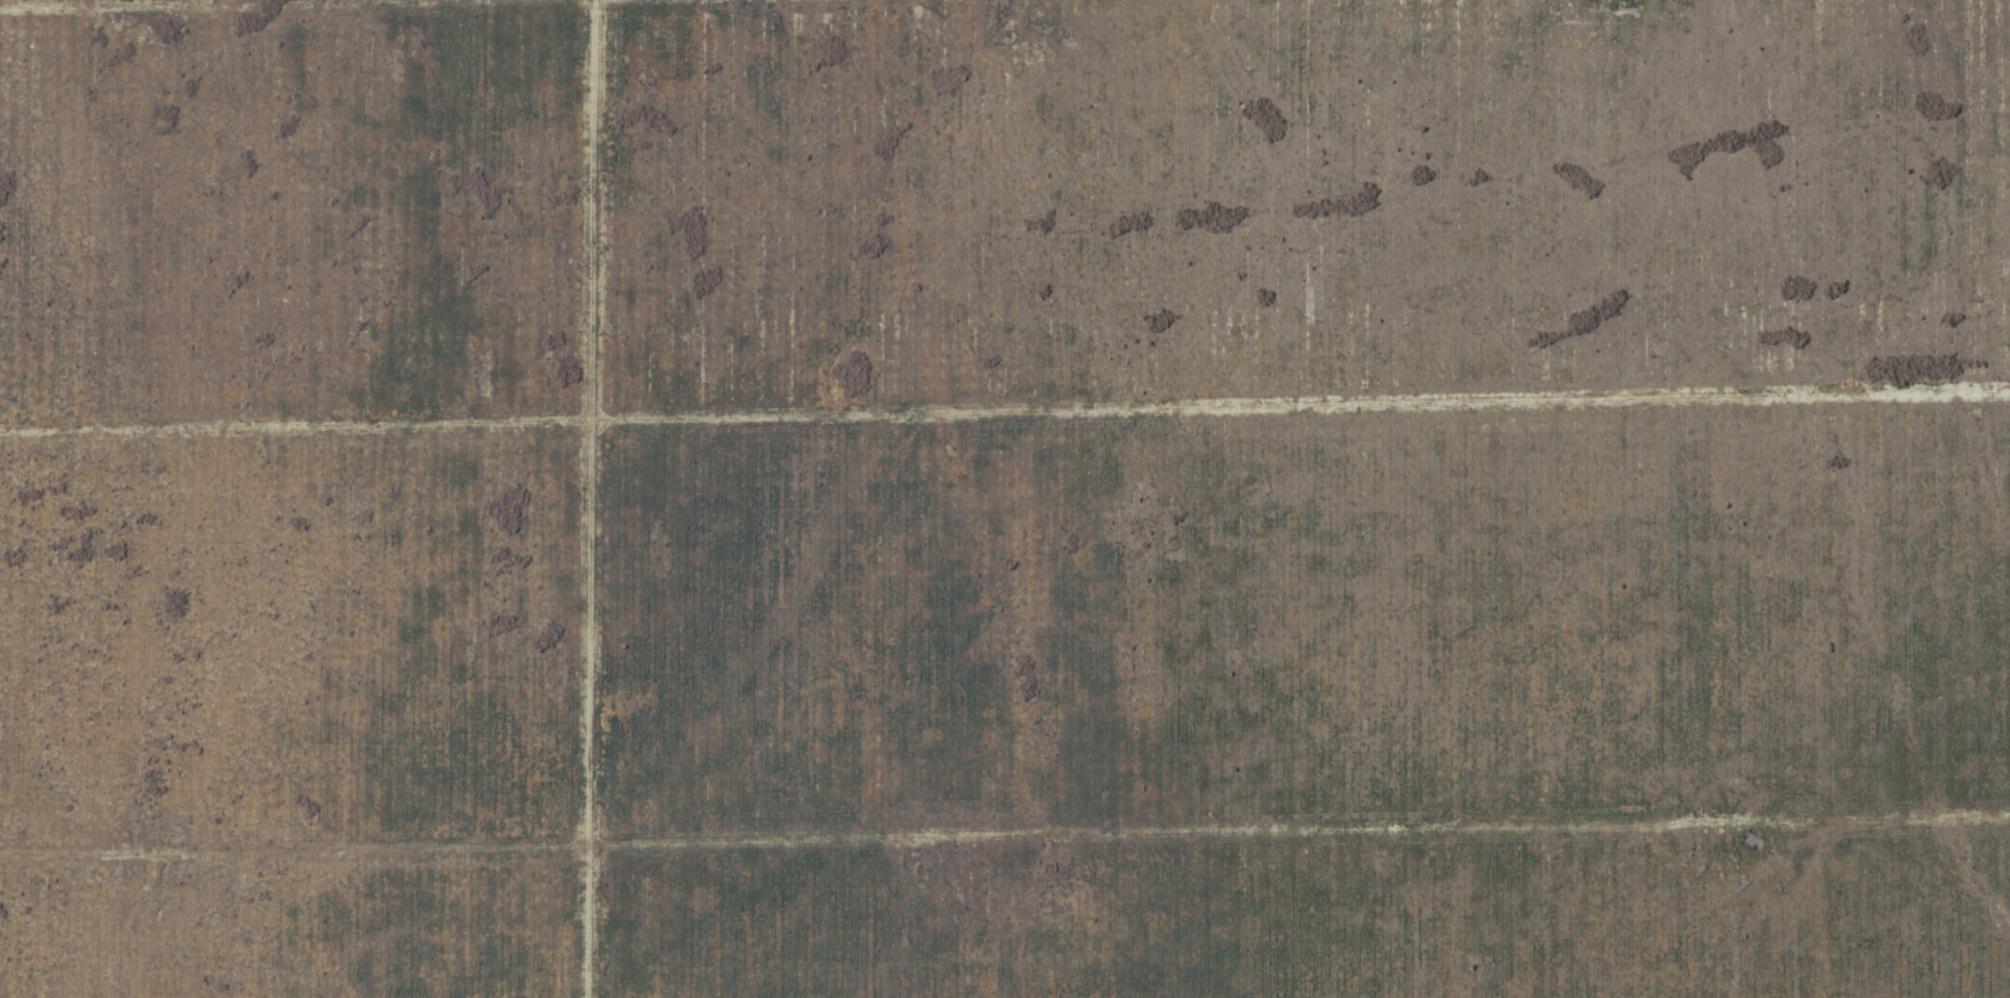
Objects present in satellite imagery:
road: (23, 954)

